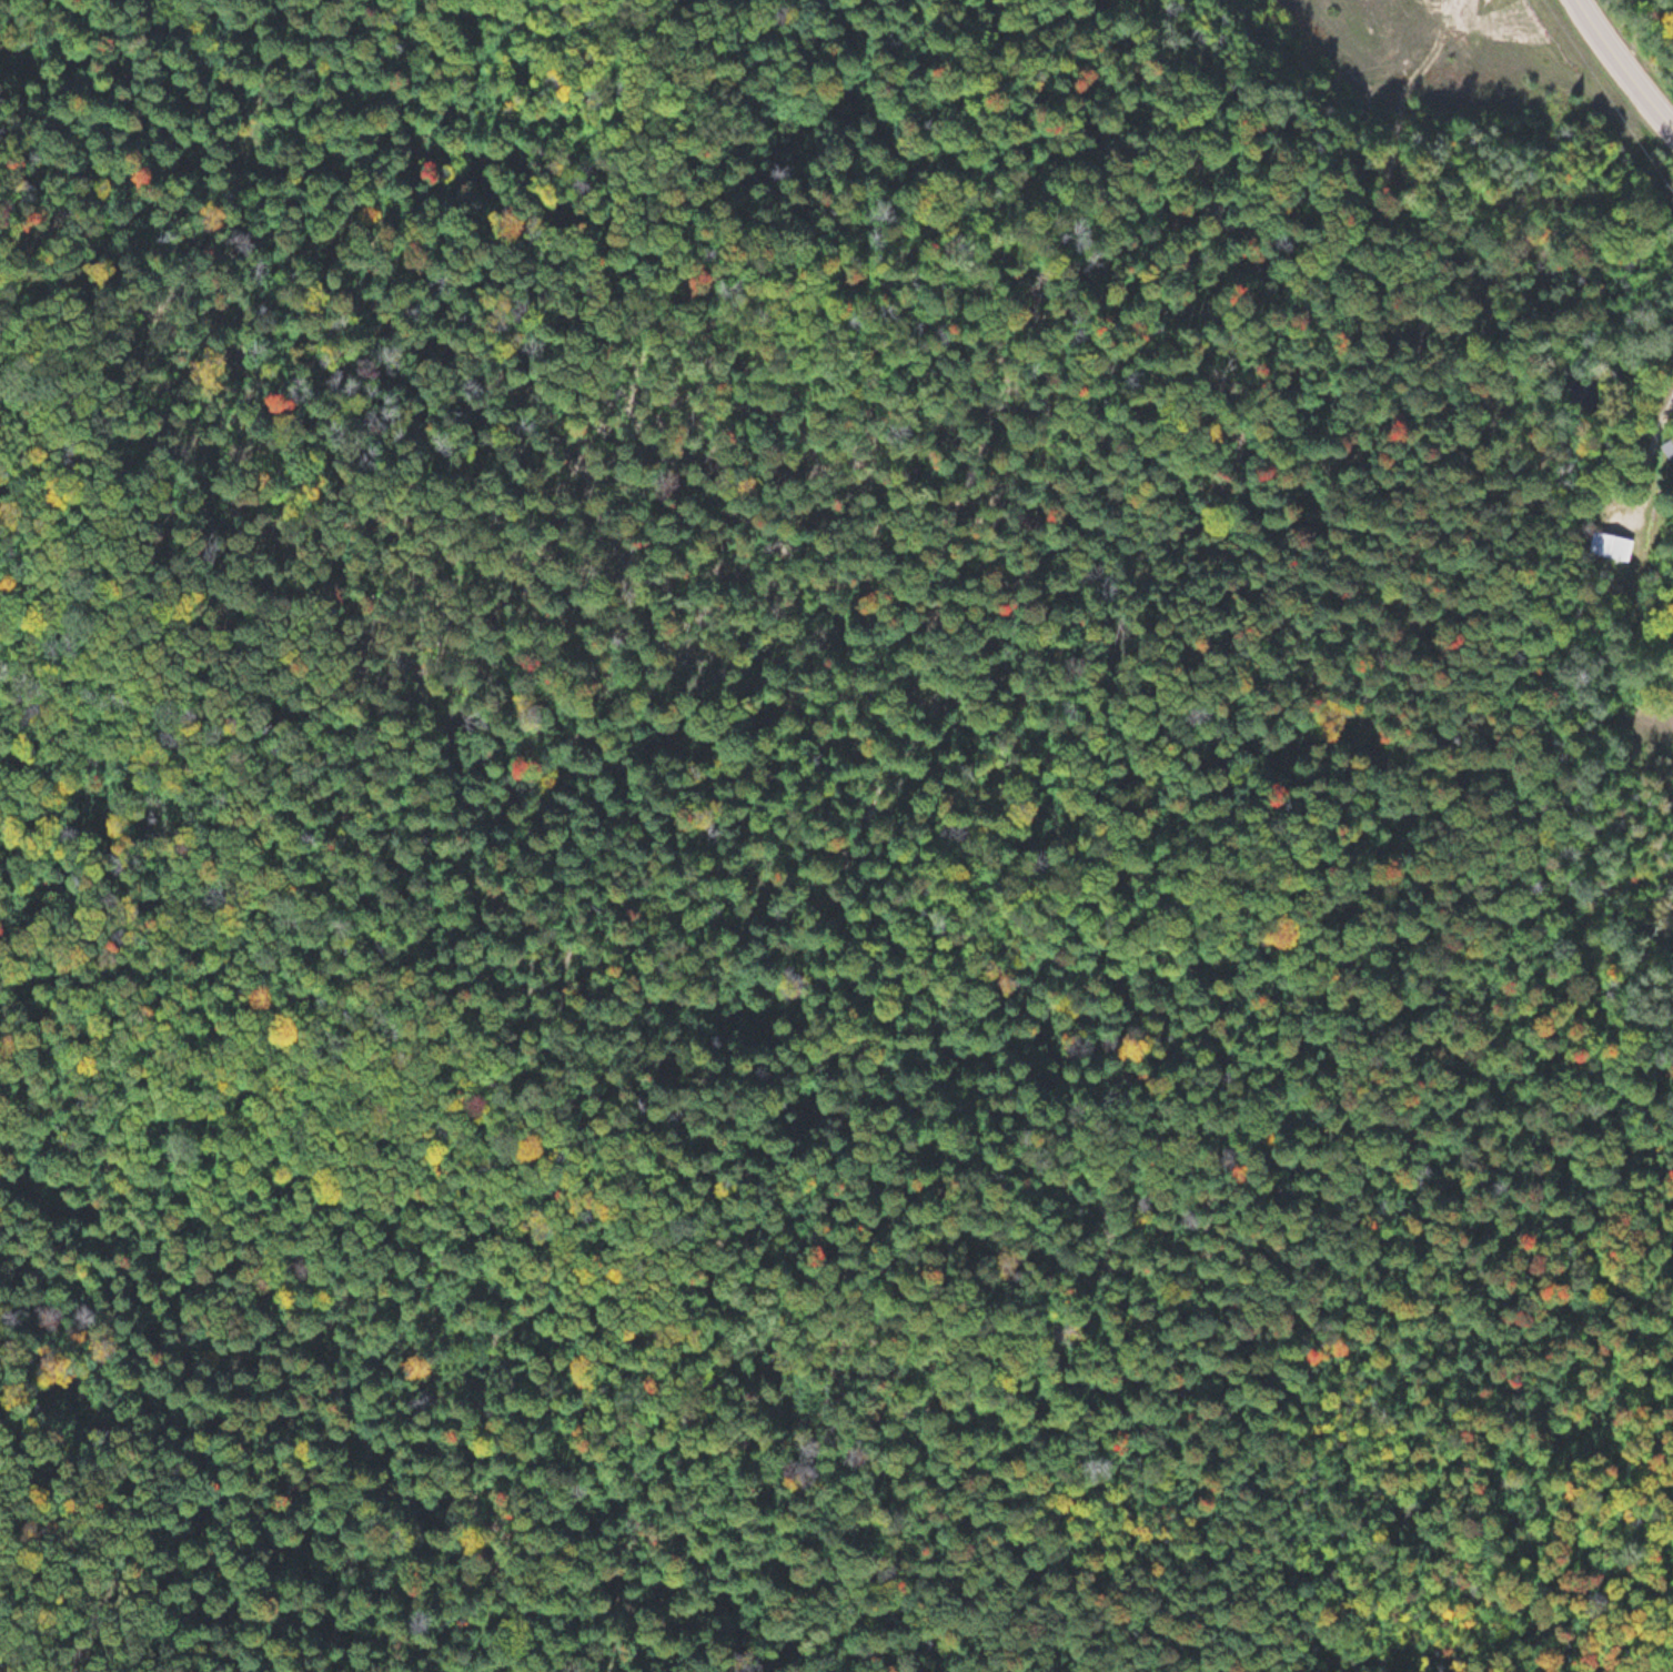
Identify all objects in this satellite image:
road: (1622, 66)
building: (1667, 446)
building: (1611, 545)

